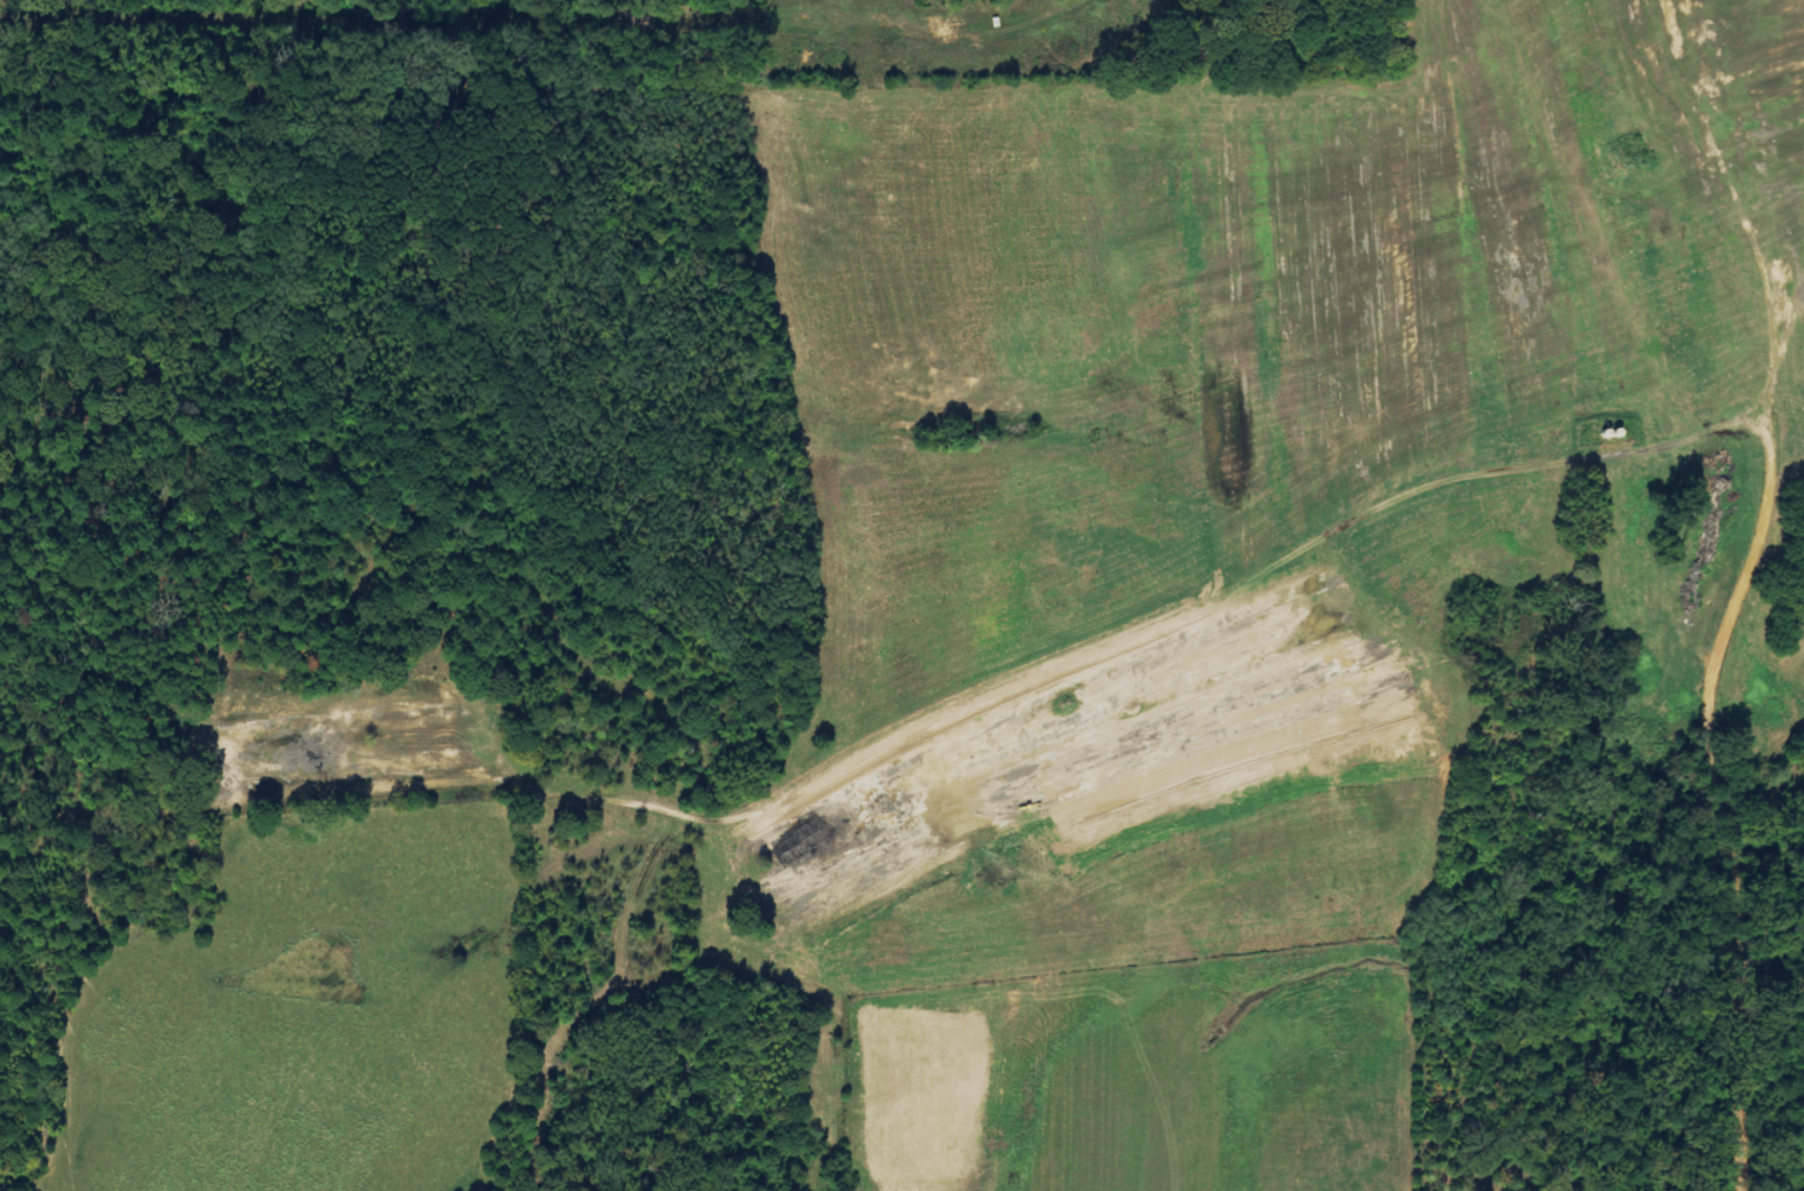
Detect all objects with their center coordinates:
airport: (1145, 1078)

